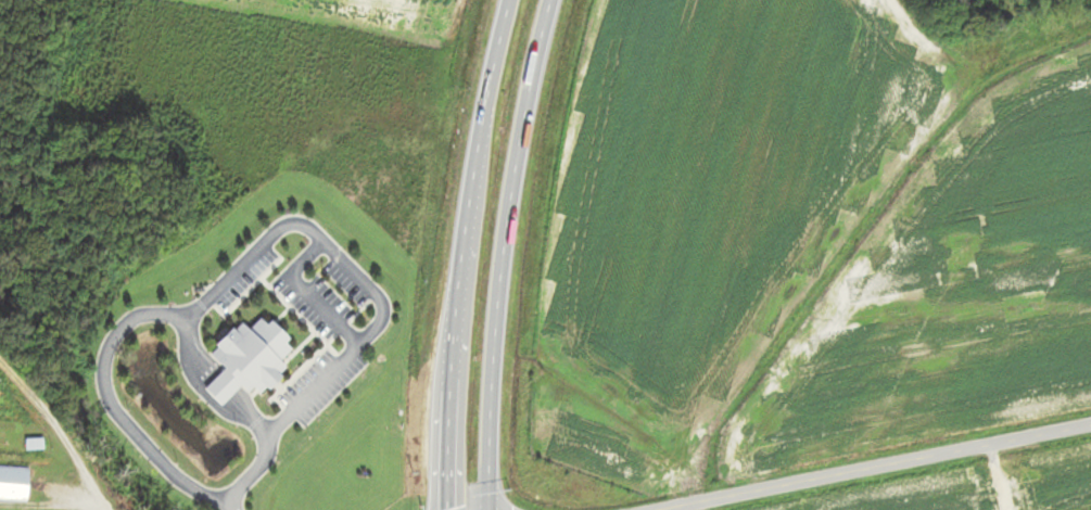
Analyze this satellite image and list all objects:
road: (462, 253)
road: (502, 253)
building: (240, 360)
road: (58, 432)
building: (30, 445)
road: (873, 467)
building: (13, 484)

